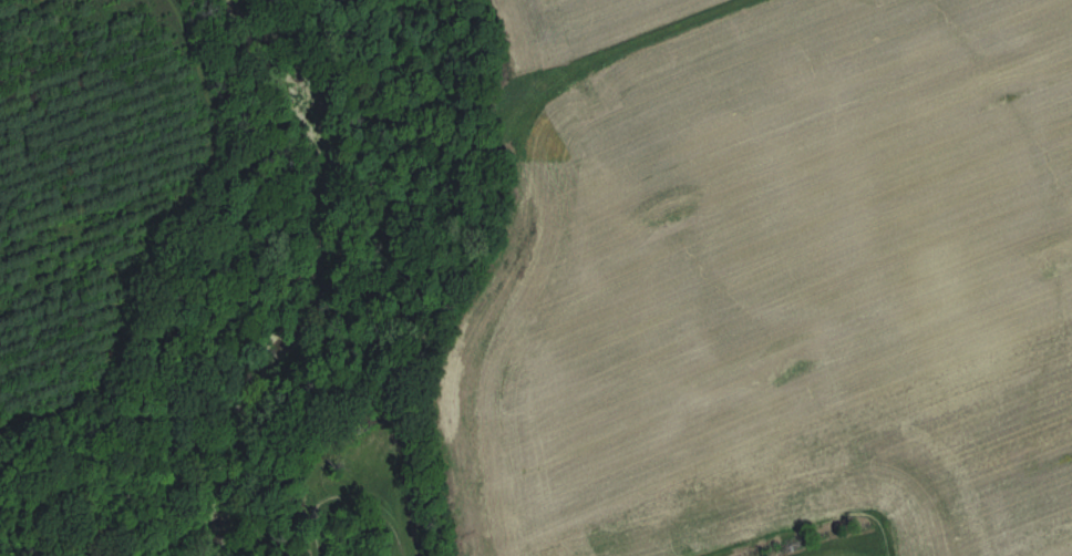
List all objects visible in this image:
road: (178, 256)
park: (167, 278)
road: (90, 465)

